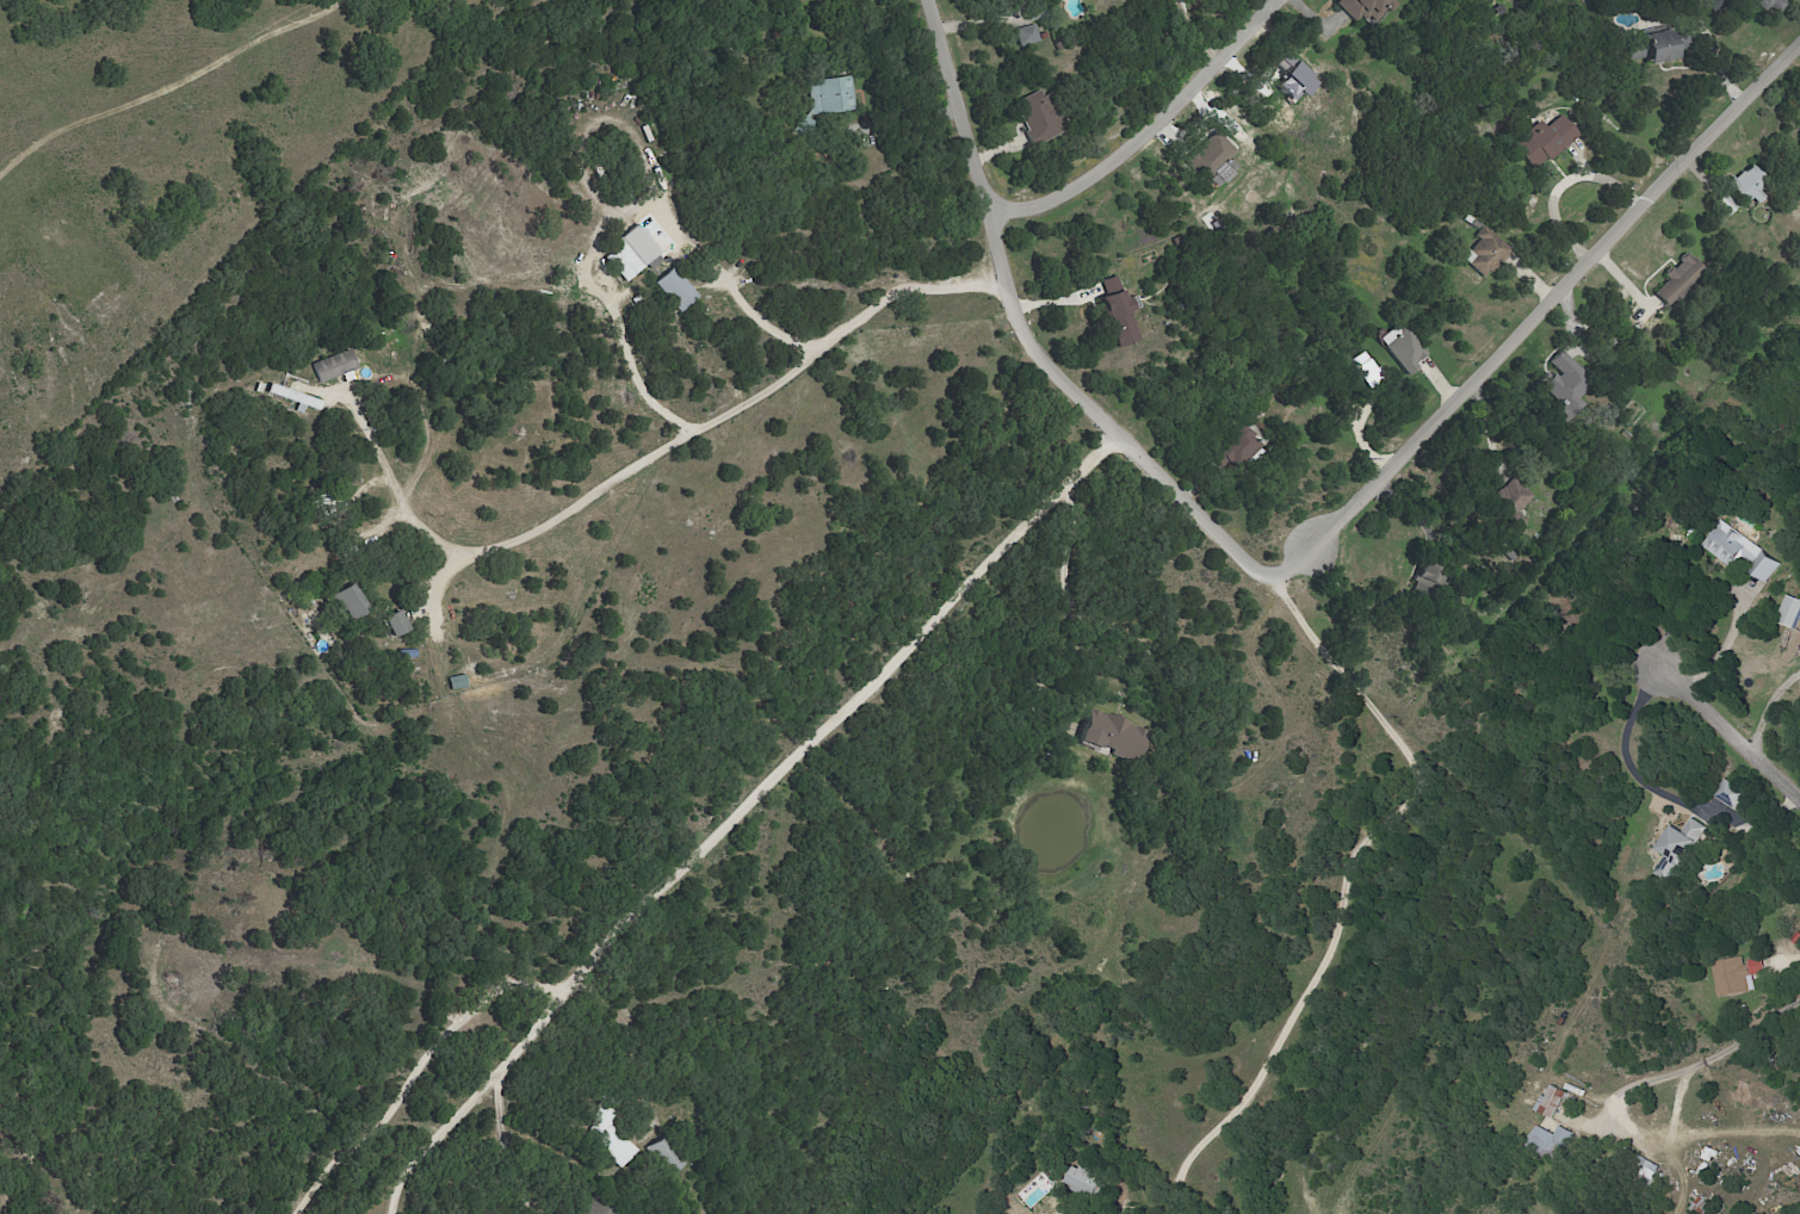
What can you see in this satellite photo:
building: (1763, 4)
building: (1365, 8)
building: (1023, 35)
road: (1192, 37)
building: (1650, 48)
building: (1289, 81)
road: (186, 93)
building: (830, 94)
building: (1031, 117)
road: (1156, 131)
building: (1541, 142)
building: (1205, 155)
road: (1557, 184)
building: (1744, 184)
building: (1721, 203)
road: (617, 218)
building: (1482, 252)
building: (625, 254)
building: (1674, 279)
building: (669, 289)
road: (1548, 310)
building: (1112, 311)
road: (1038, 343)
building: (1400, 348)
building: (330, 365)
building: (1363, 370)
building: (1561, 382)
building: (295, 401)
building: (1235, 451)
road: (654, 454)
building: (1507, 501)
building: (1726, 545)
building: (1762, 568)
building: (1423, 578)
building: (339, 601)
road: (1072, 601)
building: (1788, 612)
building: (384, 623)
road: (1724, 636)
road: (1273, 694)
road: (1768, 704)
road: (1733, 730)
building: (1106, 733)
road: (1628, 764)
road: (736, 811)
building: (1675, 849)
road: (1344, 887)
building: (1732, 975)
road: (415, 1069)
road: (1625, 1097)
road: (1680, 1101)
building: (1547, 1102)
building: (606, 1139)
building: (1546, 1141)
road: (512, 1148)
building: (658, 1156)
building: (1641, 1170)
building: (1084, 1181)

